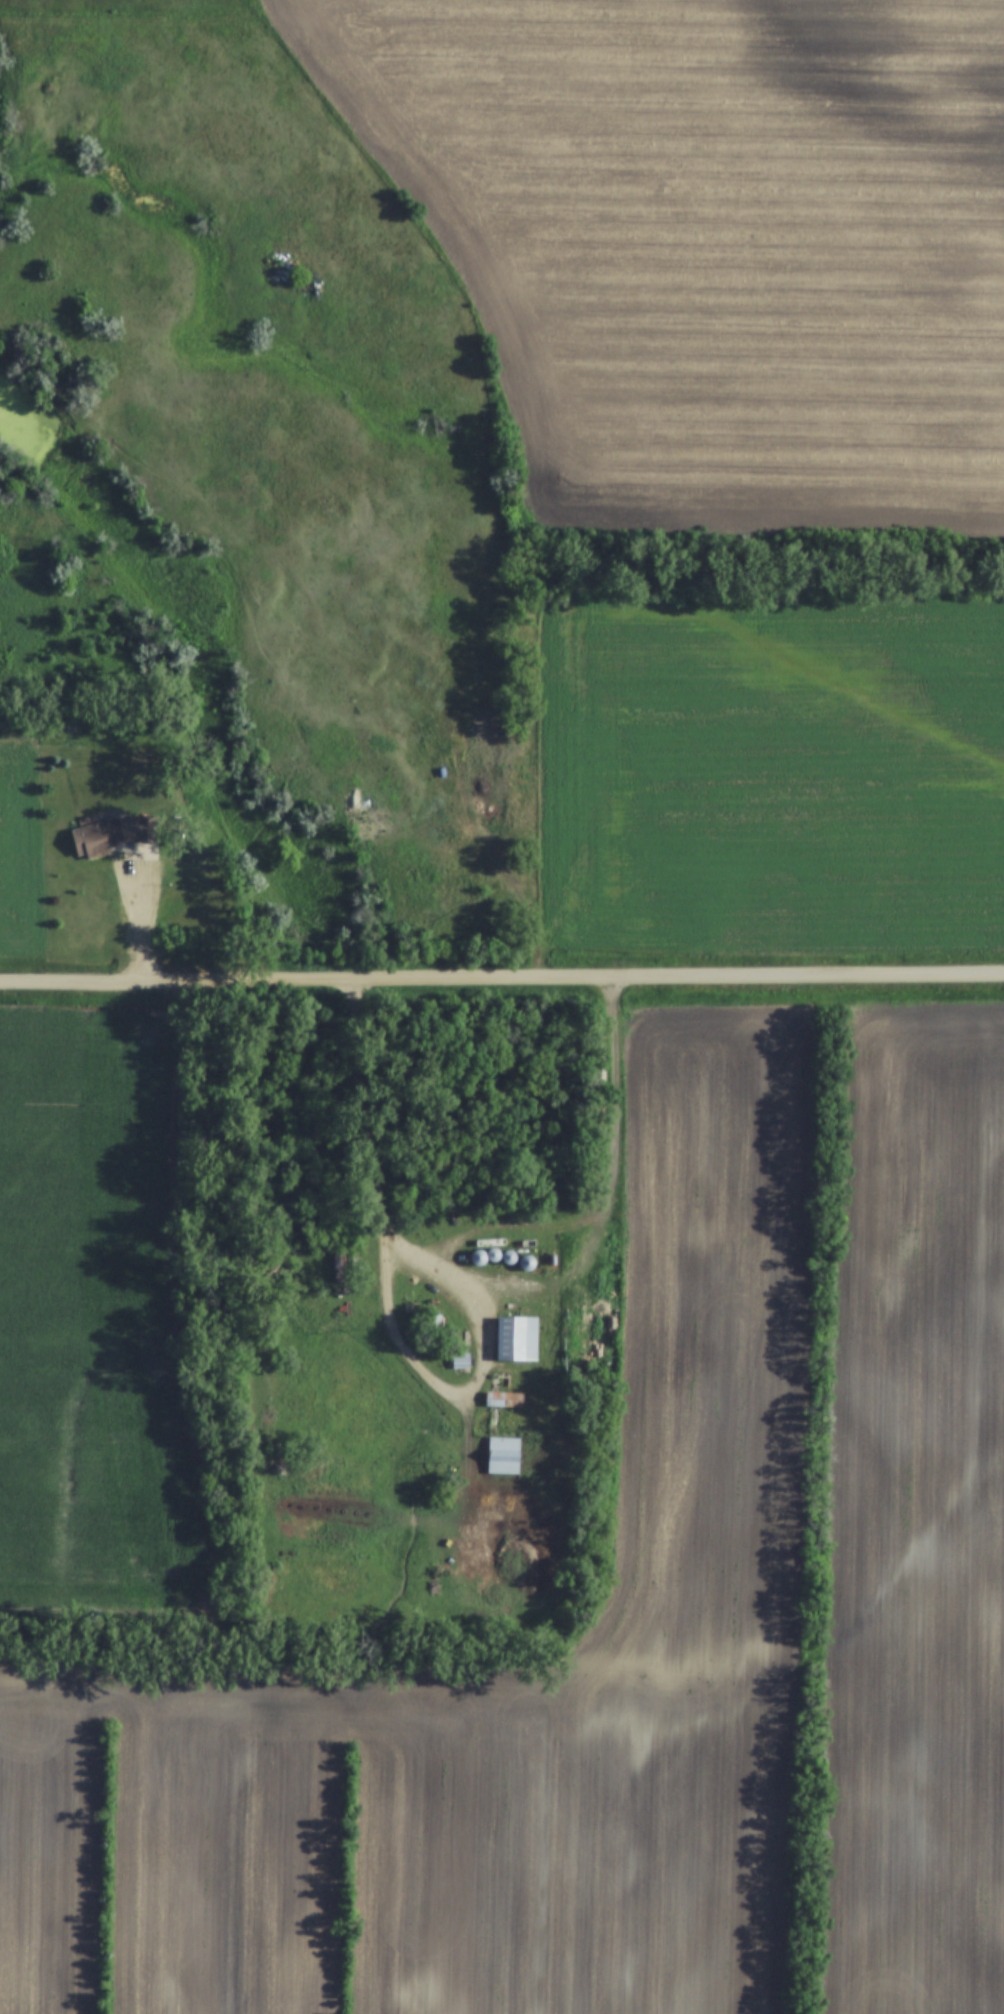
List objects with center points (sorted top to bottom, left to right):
building: (116, 834)
road: (125, 900)
road: (502, 980)
road: (377, 1161)
building: (342, 1268)
building: (517, 1339)
building: (461, 1361)
building: (503, 1455)

